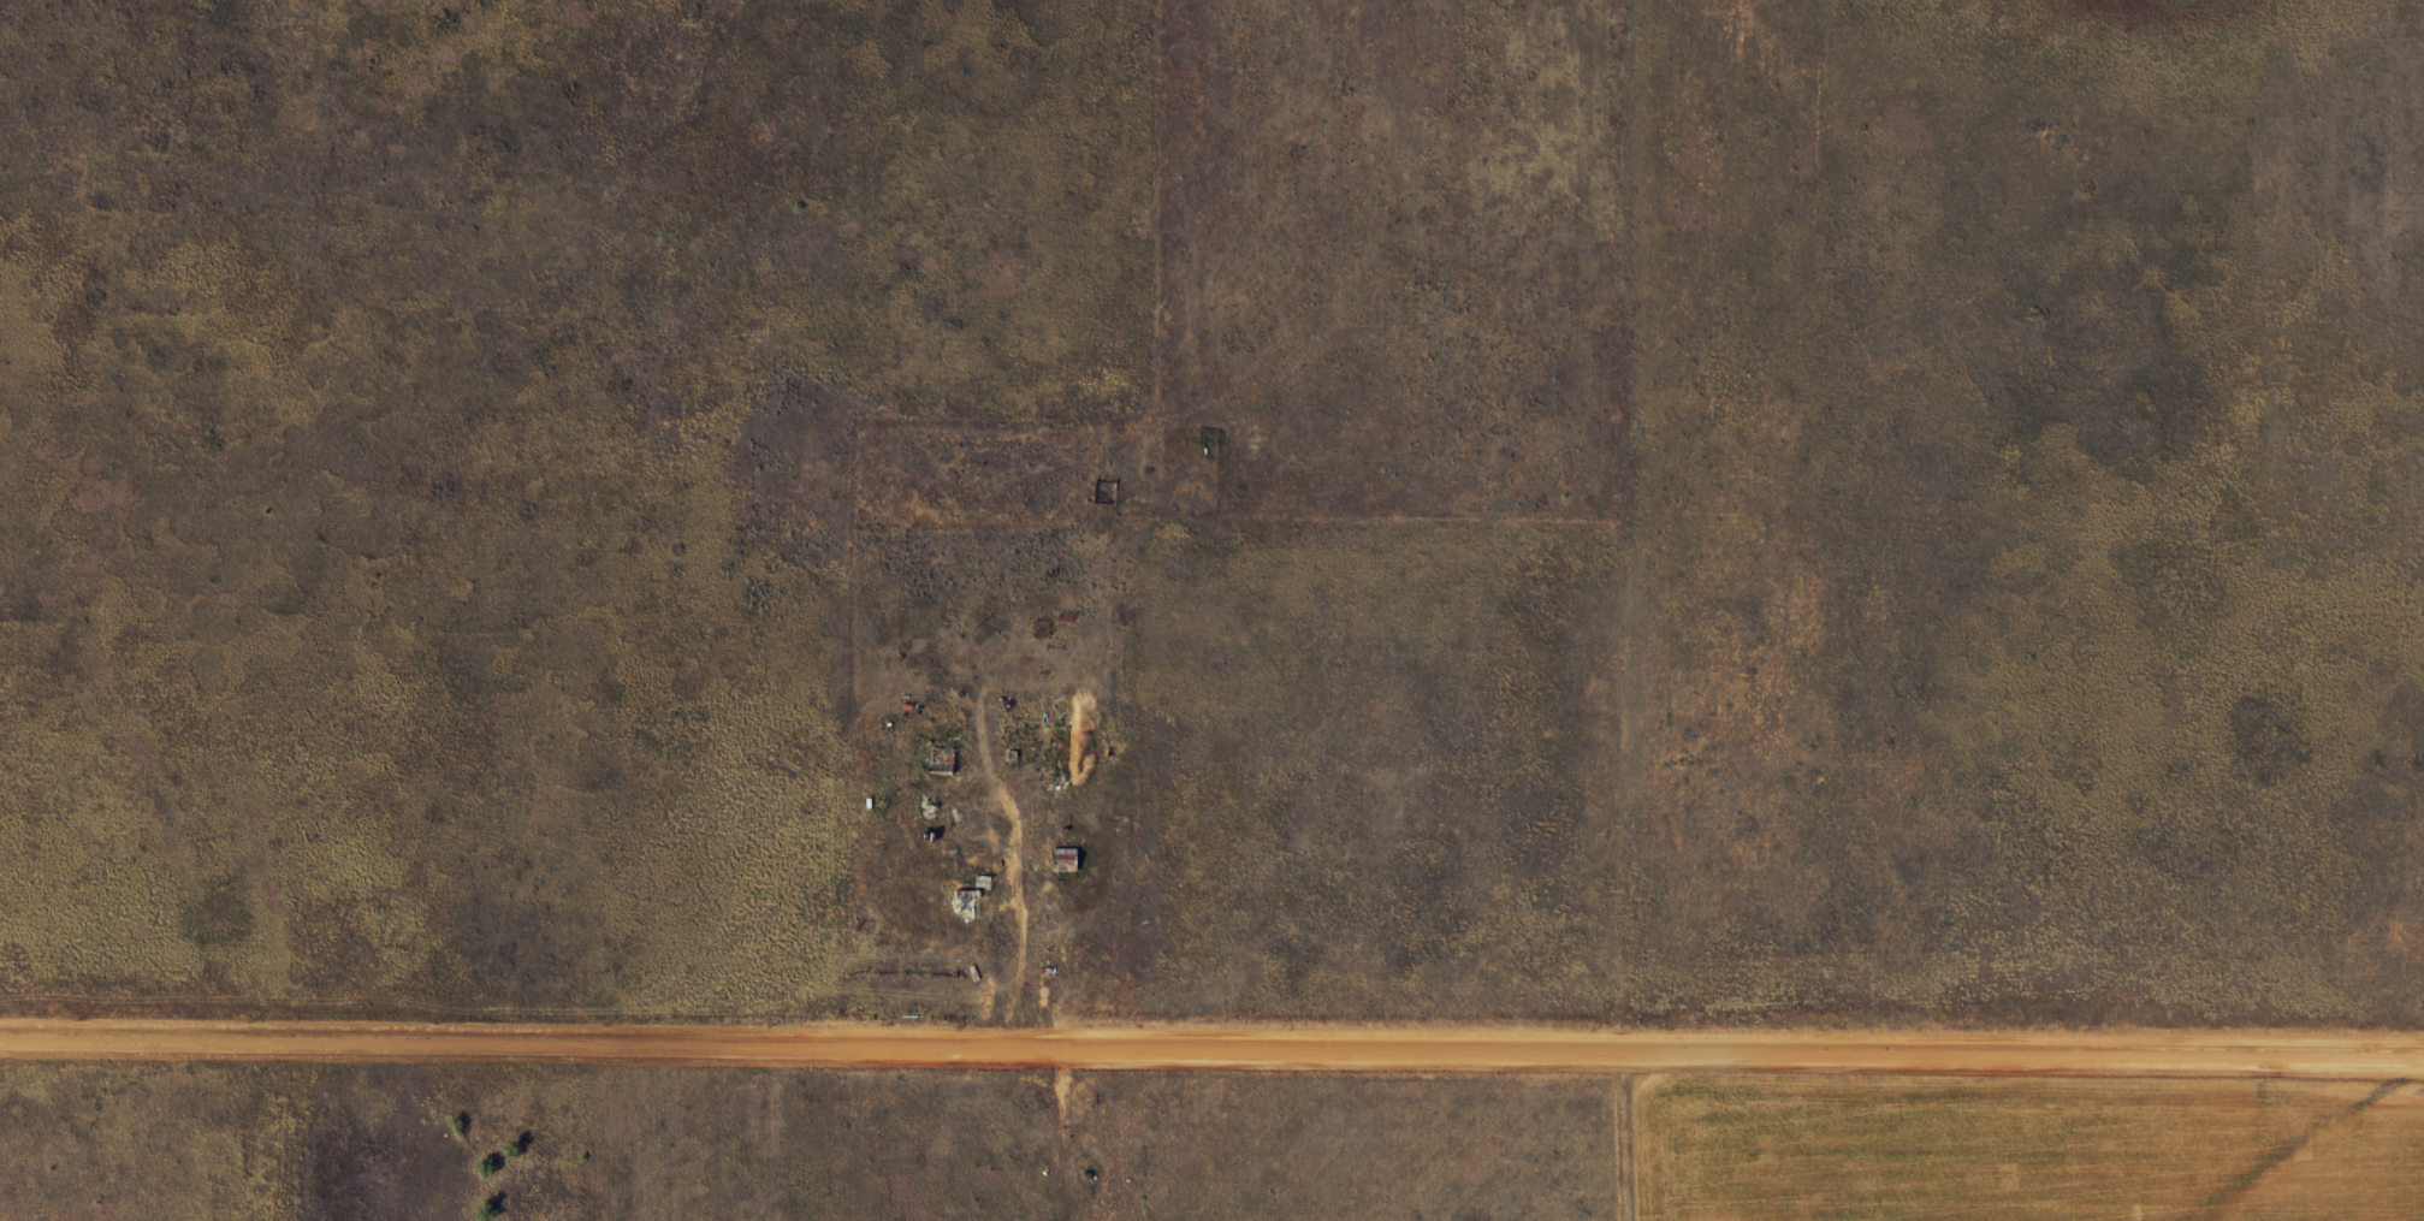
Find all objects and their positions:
road: (1657, 526)
building: (1060, 861)
building: (961, 905)
road: (1211, 1049)

